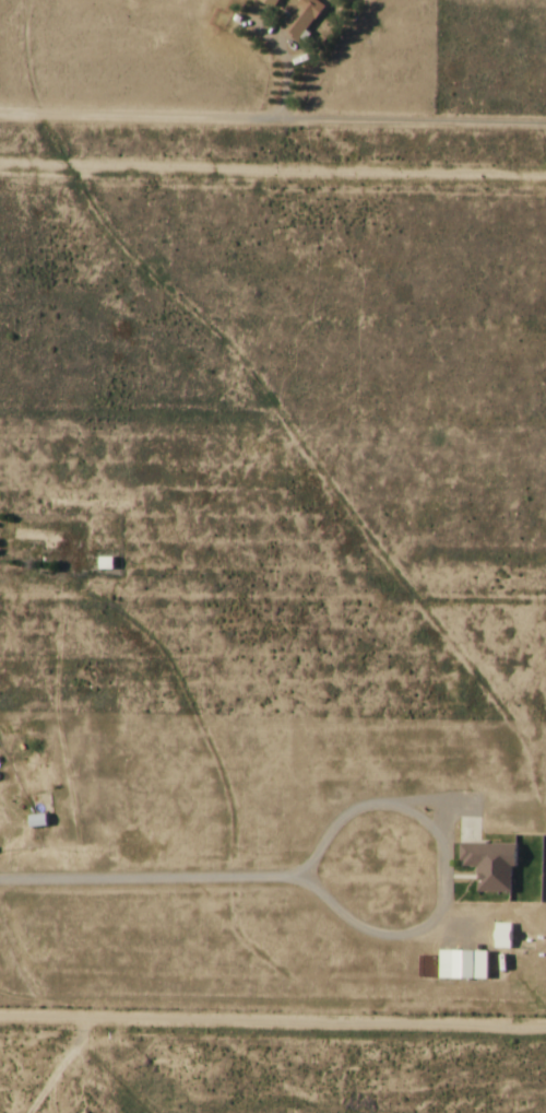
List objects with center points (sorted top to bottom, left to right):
building: (272, 2)
building: (45, 537)

